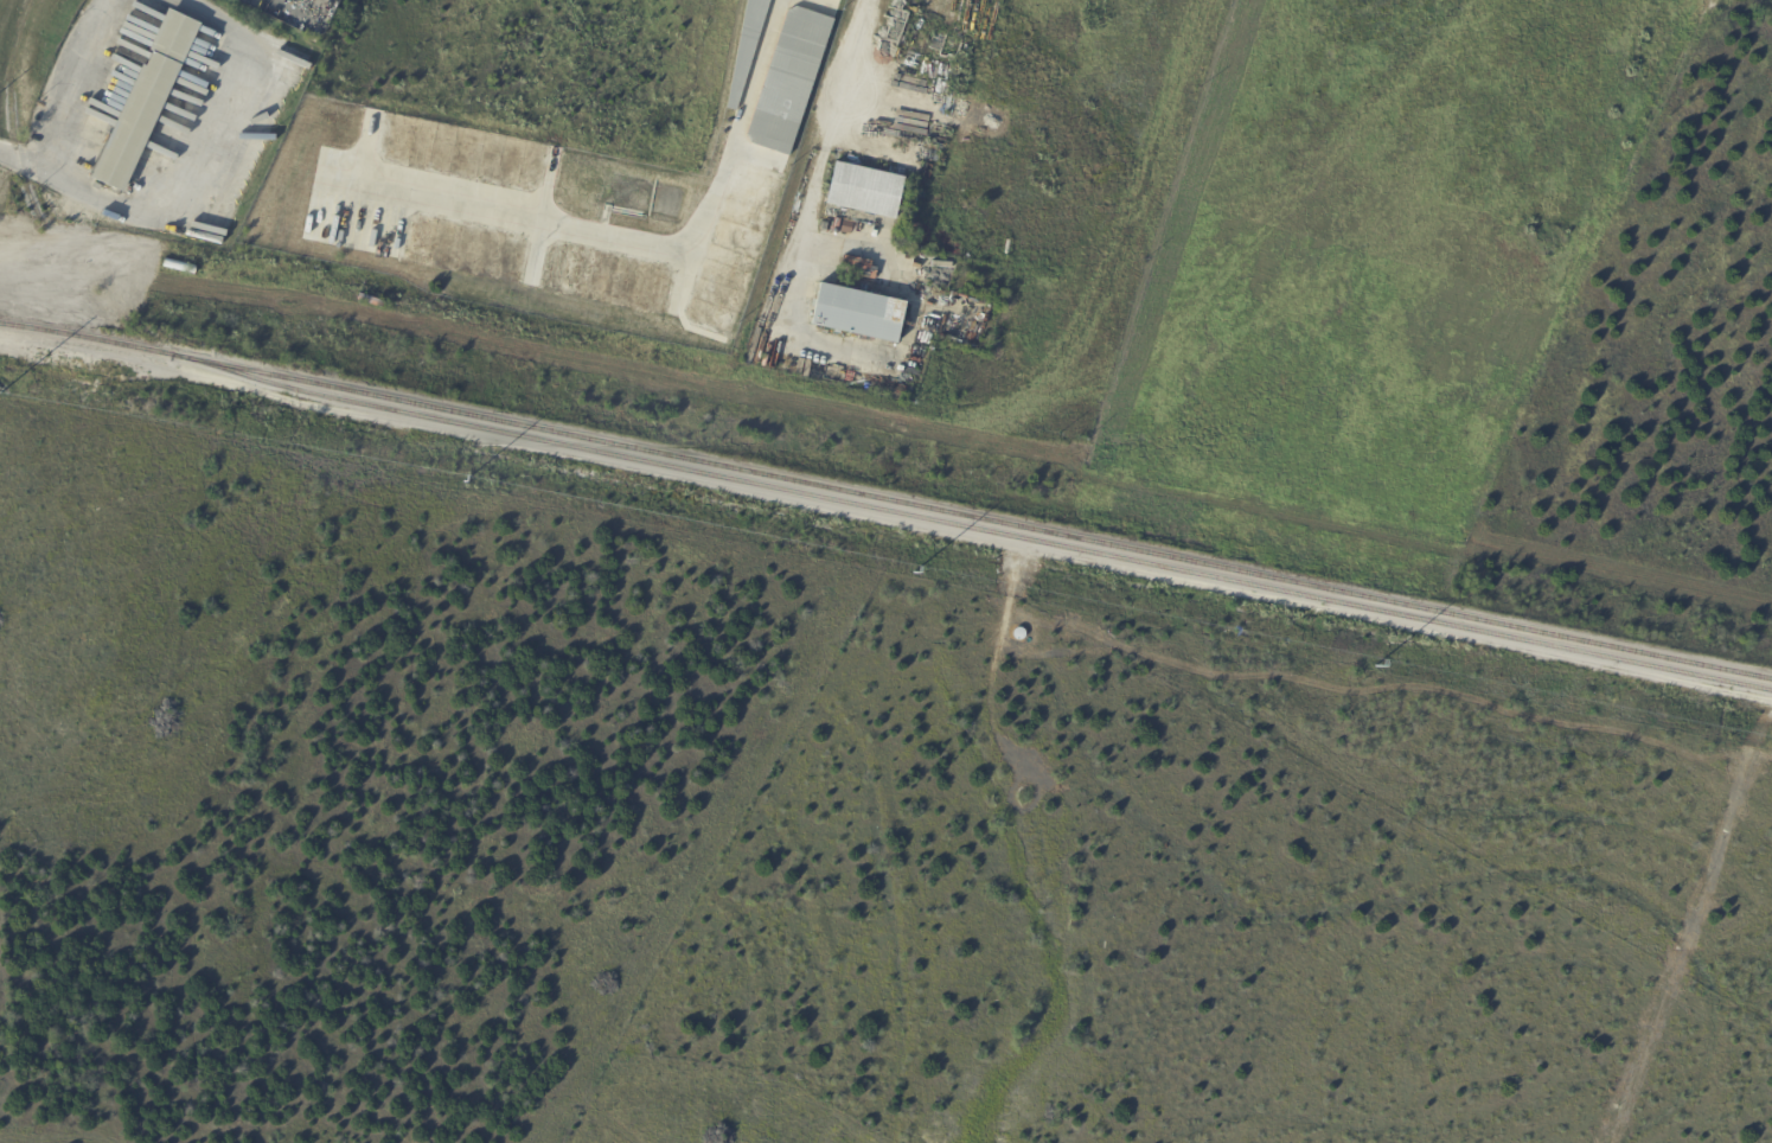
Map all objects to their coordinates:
building: (840, 0)
building: (747, 47)
building: (789, 79)
road: (84, 88)
building: (146, 101)
road: (827, 140)
building: (865, 190)
road: (155, 210)
road: (631, 240)
building: (858, 313)
railway: (885, 498)
railway: (971, 526)

